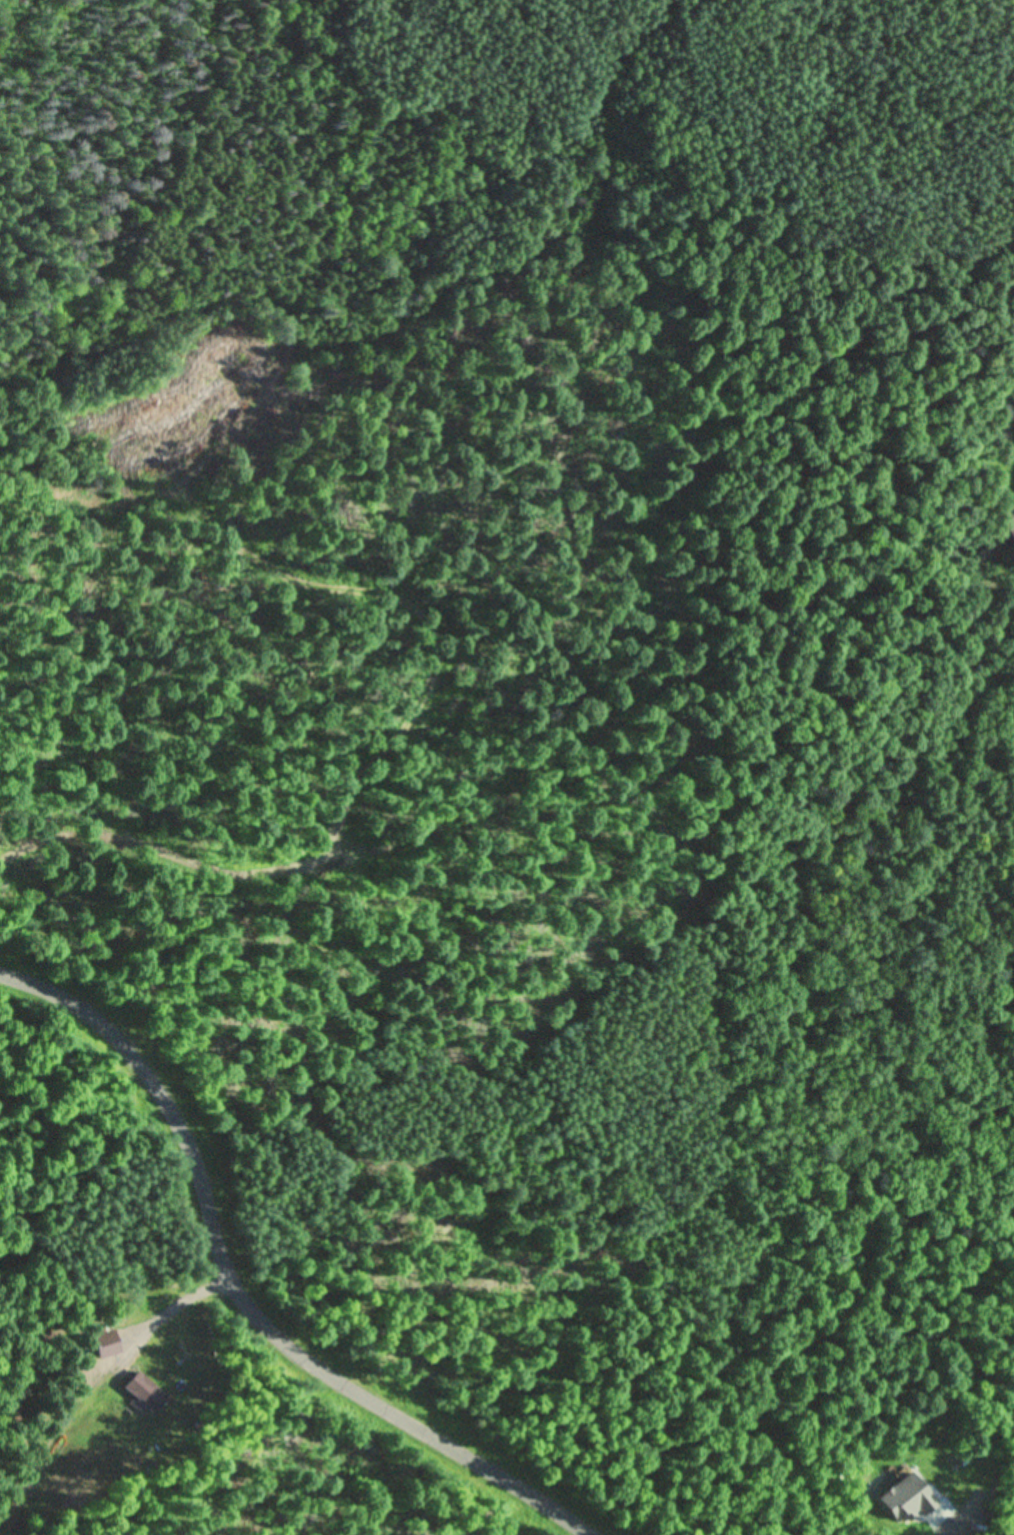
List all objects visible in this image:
building: (1009, 527)
road: (240, 1295)

